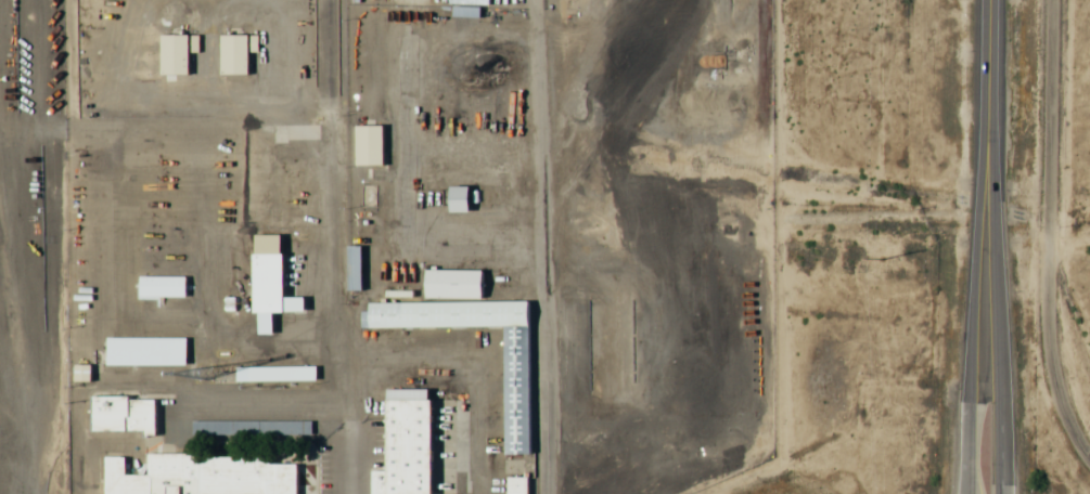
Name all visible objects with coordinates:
building: (463, 10)
road: (987, 31)
building: (233, 52)
building: (171, 53)
building: (366, 143)
road: (990, 180)
building: (456, 197)
building: (351, 266)
road: (972, 278)
building: (450, 282)
building: (159, 285)
building: (268, 290)
building: (144, 350)
building: (79, 372)
building: (267, 373)
road: (997, 389)
building: (514, 390)
building: (121, 413)
building: (249, 427)
building: (403, 443)
road: (964, 448)
building: (200, 476)
building: (514, 484)
road: (998, 487)
road: (999, 487)

